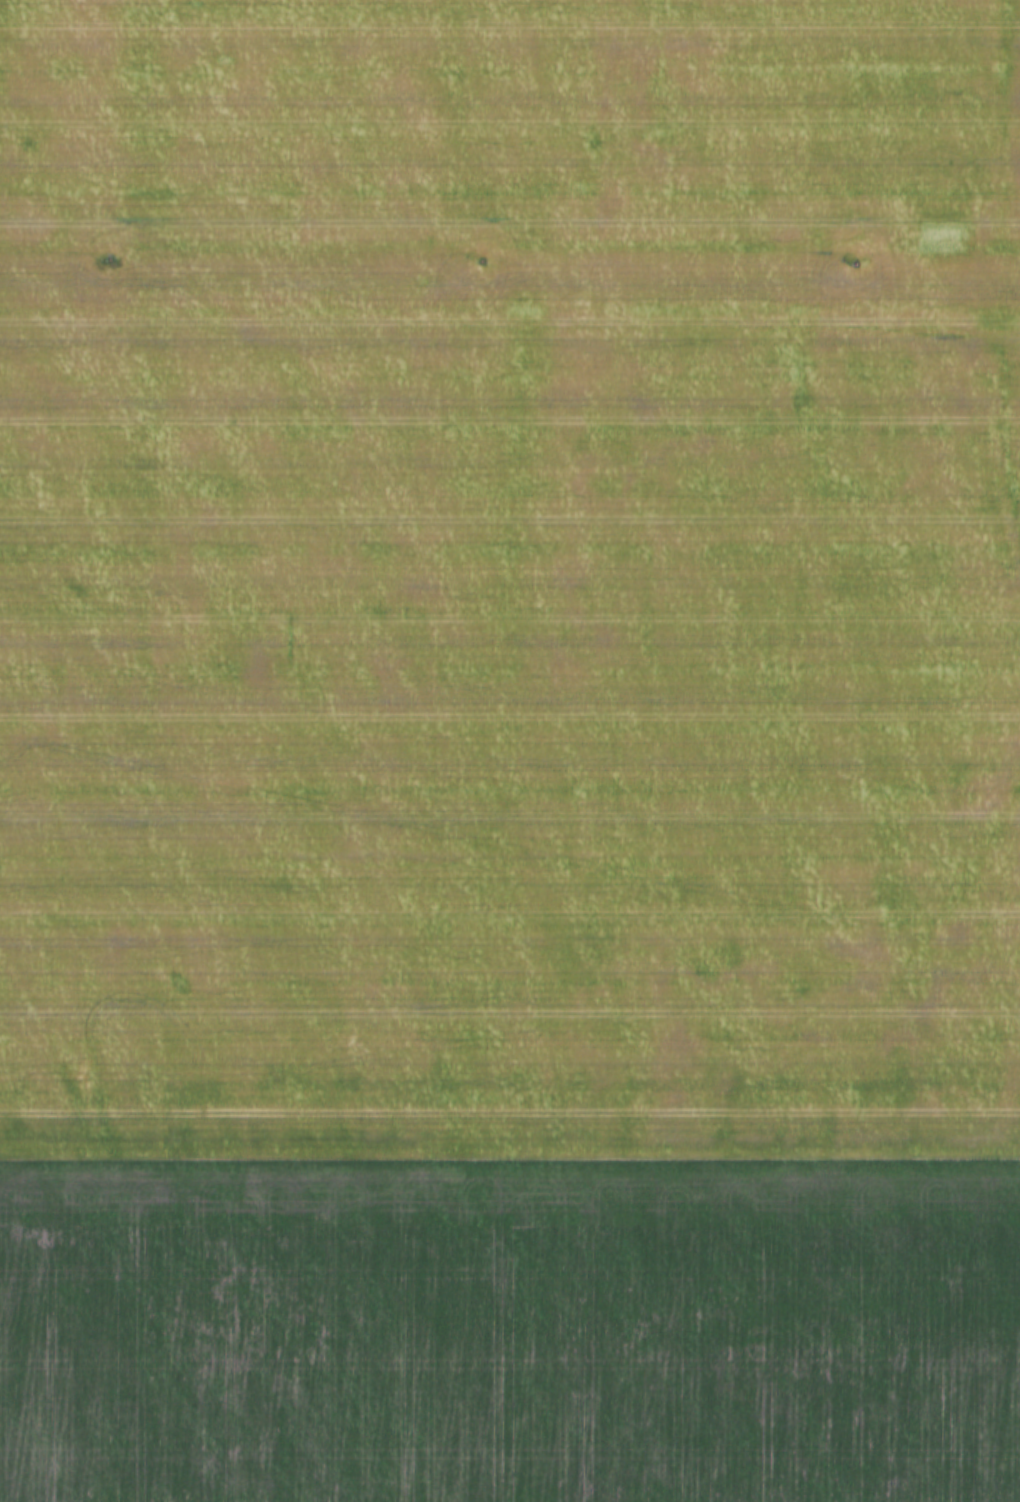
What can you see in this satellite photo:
crop: (510, 582)
crop: (509, 1333)

